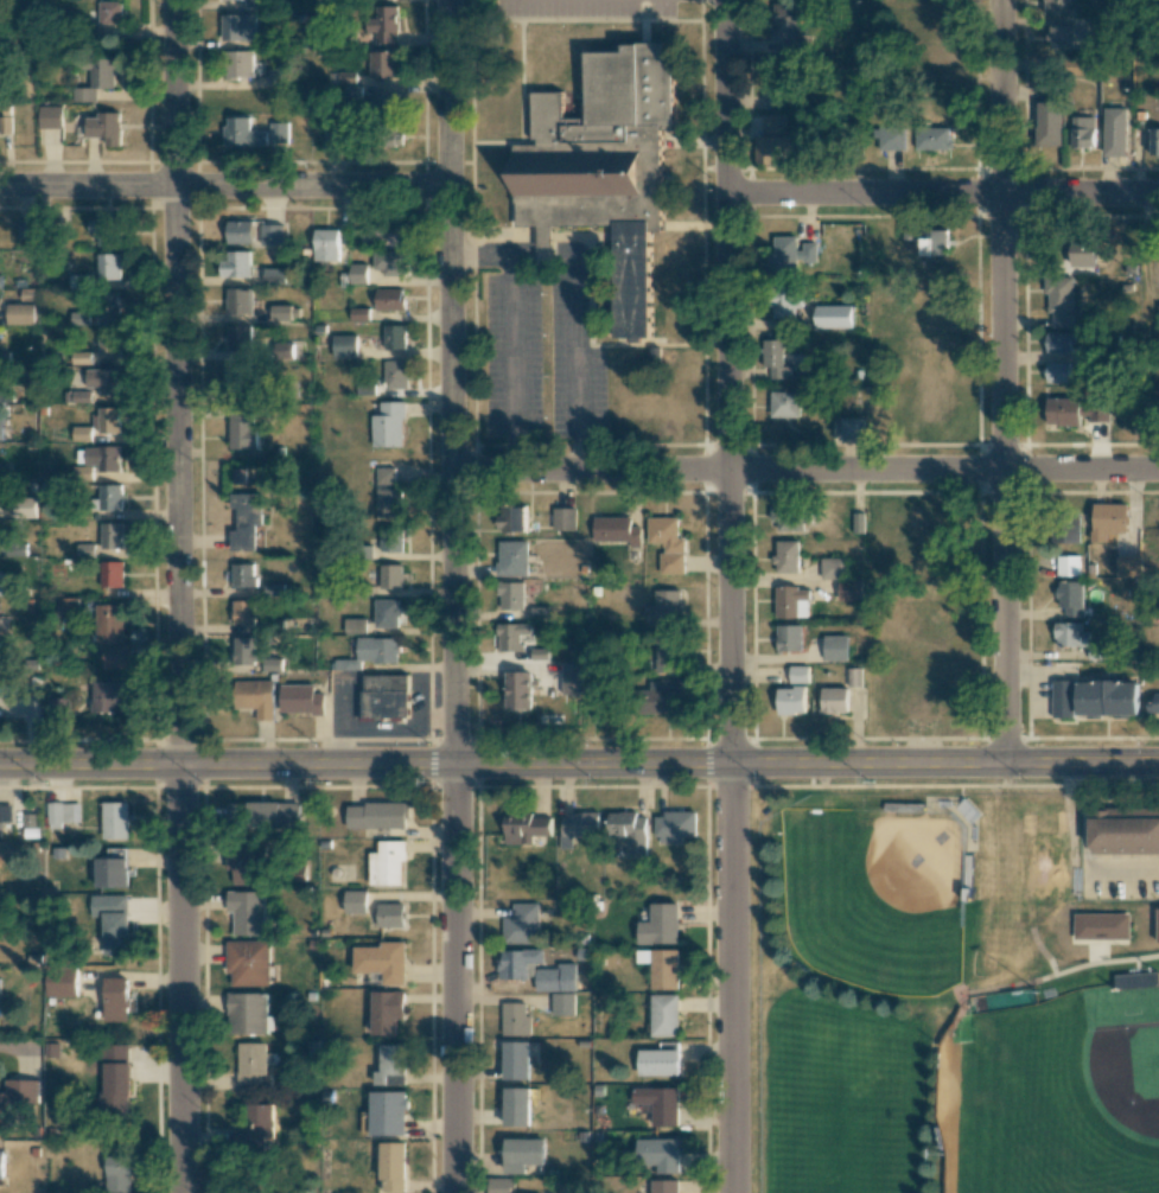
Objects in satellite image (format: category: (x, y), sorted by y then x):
parking lot: (585, 7)
building: (1062, 7)
building: (108, 13)
building: (937, 15)
building: (785, 20)
building: (382, 26)
building: (238, 28)
building: (1061, 37)
building: (936, 57)
building: (1, 63)
building: (237, 65)
building: (382, 65)
building: (96, 78)
building: (279, 78)
building: (381, 106)
building: (50, 119)
building: (1046, 123)
building: (104, 129)
building: (1114, 130)
building: (1082, 132)
building: (242, 134)
building: (279, 134)
building: (335, 138)
building: (387, 138)
building: (889, 138)
building: (932, 138)
building: (772, 140)
building: (1154, 142)
building: (604, 166)
road: (224, 187)
road: (943, 194)
building: (26, 231)
building: (107, 232)
building: (237, 234)
building: (386, 234)
building: (270, 236)
building: (935, 242)
building: (326, 247)
building: (790, 254)
building: (1082, 254)
building: (389, 263)
building: (234, 264)
building: (108, 268)
building: (273, 276)
building: (358, 276)
building: (77, 280)
building: (389, 300)
building: (1059, 300)
building: (237, 301)
road: (582, 301)
building: (785, 301)
building: (107, 306)
building: (279, 313)
building: (20, 315)
building: (359, 315)
building: (1158, 315)
building: (834, 317)
building: (79, 318)
building: (394, 338)
building: (237, 339)
building: (1058, 342)
building: (108, 344)
building: (343, 346)
building: (280, 351)
parking lot: (511, 356)
building: (775, 358)
parking lot: (573, 359)
road: (511, 365)
building: (1057, 372)
building: (395, 375)
building: (240, 382)
road: (727, 382)
building: (104, 383)
road: (453, 383)
road: (1001, 384)
building: (287, 390)
building: (1, 396)
building: (81, 396)
building: (784, 404)
building: (1072, 412)
building: (108, 421)
building: (388, 426)
building: (851, 427)
building: (0, 428)
building: (242, 429)
building: (82, 433)
building: (102, 460)
building: (4, 470)
road: (807, 470)
building: (387, 493)
building: (109, 498)
building: (24, 508)
building: (511, 517)
building: (563, 518)
building: (784, 519)
building: (1108, 521)
building: (244, 522)
building: (858, 523)
building: (616, 530)
building: (1065, 531)
building: (112, 536)
building: (390, 538)
building: (667, 543)
building: (13, 549)
building: (84, 549)
building: (787, 556)
building: (511, 557)
building: (1066, 566)
building: (833, 568)
building: (110, 574)
building: (243, 574)
building: (389, 576)
building: (7, 583)
building: (849, 591)
building: (510, 594)
road: (178, 595)
building: (1069, 598)
building: (791, 602)
building: (0, 604)
building: (68, 608)
building: (667, 608)
building: (242, 612)
building: (387, 612)
building: (355, 625)
building: (1070, 634)
building: (512, 636)
building: (110, 638)
building: (789, 638)
building: (835, 647)
building: (377, 649)
building: (243, 650)
building: (666, 653)
building: (798, 674)
building: (854, 677)
building: (574, 678)
building: (518, 689)
building: (660, 695)
building: (106, 696)
building: (384, 696)
building: (254, 697)
building: (1106, 697)
building: (300, 698)
building: (922, 698)
building: (1062, 698)
building: (790, 700)
building: (834, 700)
building: (1152, 703)
building: (56, 708)
road: (579, 766)
road: (954, 785)
road: (318, 786)
road: (456, 786)
road: (592, 786)
road: (730, 786)
road: (82, 787)
road: (182, 787)
building: (5, 812)
building: (63, 815)
building: (262, 815)
building: (376, 815)
building: (114, 821)
building: (579, 827)
building: (675, 827)
building: (524, 828)
building: (1125, 829)
building: (629, 831)
building: (246, 862)
building: (387, 863)
building: (109, 873)
park: (875, 895)
building: (354, 904)
building: (246, 912)
building: (390, 914)
building: (110, 921)
building: (522, 924)
building: (662, 925)
building: (1102, 926)
building: (1158, 926)
building: (380, 962)
building: (248, 964)
building: (662, 968)
building: (530, 970)
road: (457, 980)
road: (728, 980)
building: (1135, 980)
building: (59, 982)
building: (115, 1000)
building: (563, 1006)
park: (938, 1009)
building: (387, 1013)
building: (247, 1014)
building: (666, 1015)
building: (516, 1020)
building: (517, 1061)
building: (658, 1063)
building: (251, 1064)
building: (390, 1066)
building: (115, 1092)
park: (1055, 1098)
building: (15, 1099)
building: (660, 1104)
building: (517, 1108)
building: (386, 1115)
building: (254, 1131)
building: (524, 1154)
building: (1, 1163)
building: (393, 1168)
building: (117, 1175)
building: (499, 1186)
building: (667, 1186)

